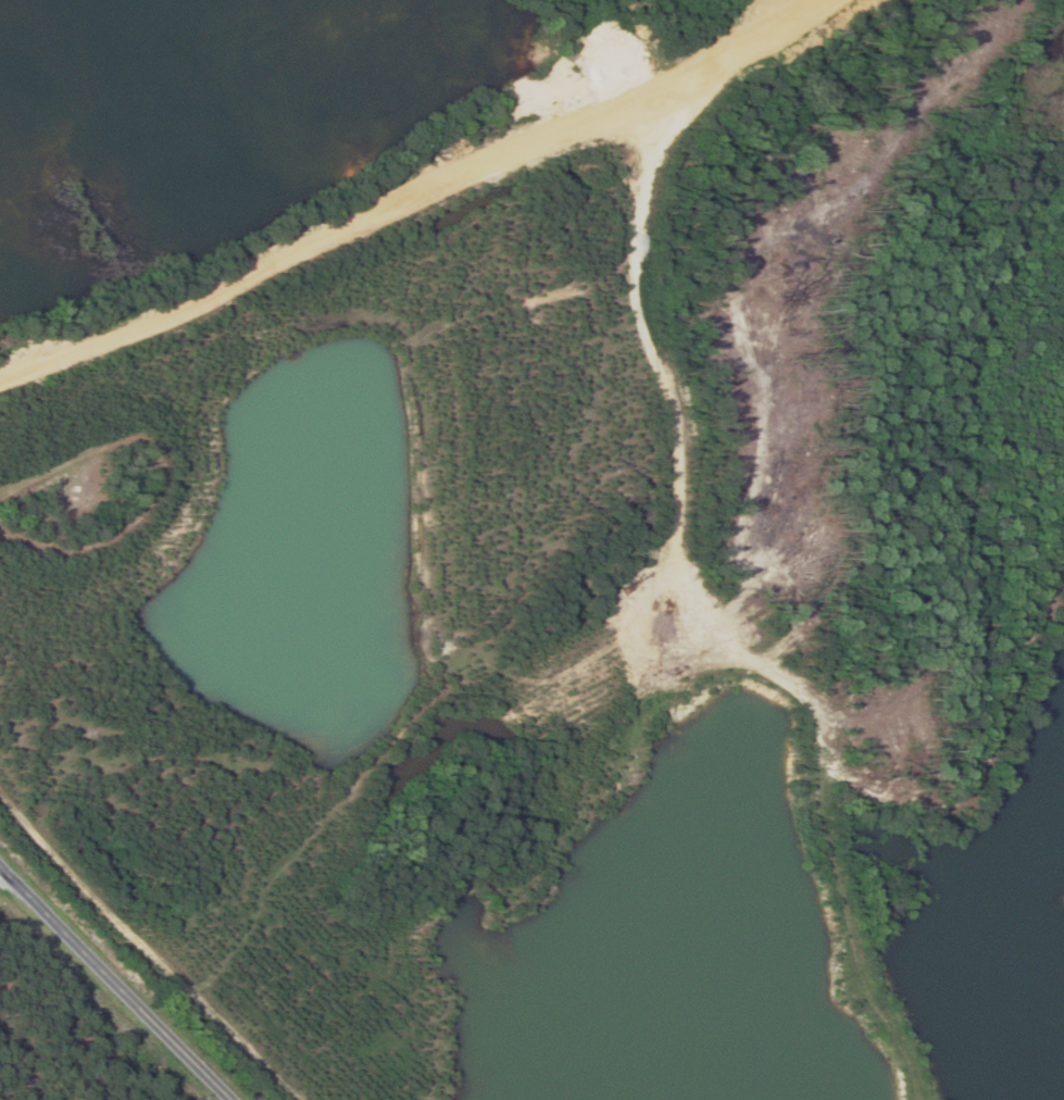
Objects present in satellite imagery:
road: (410, 197)
road: (115, 983)

